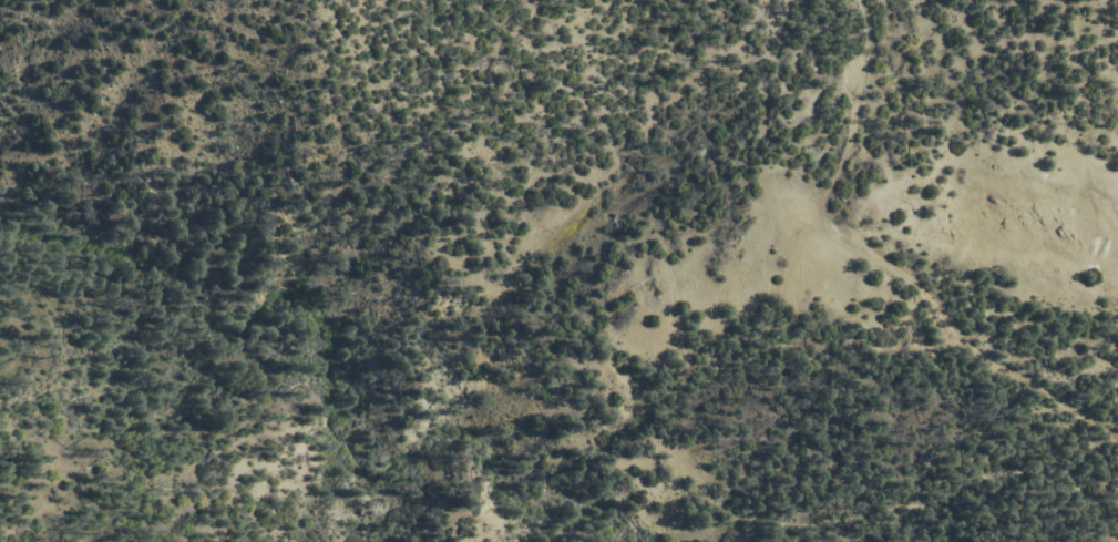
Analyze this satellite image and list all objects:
road: (879, 260)

